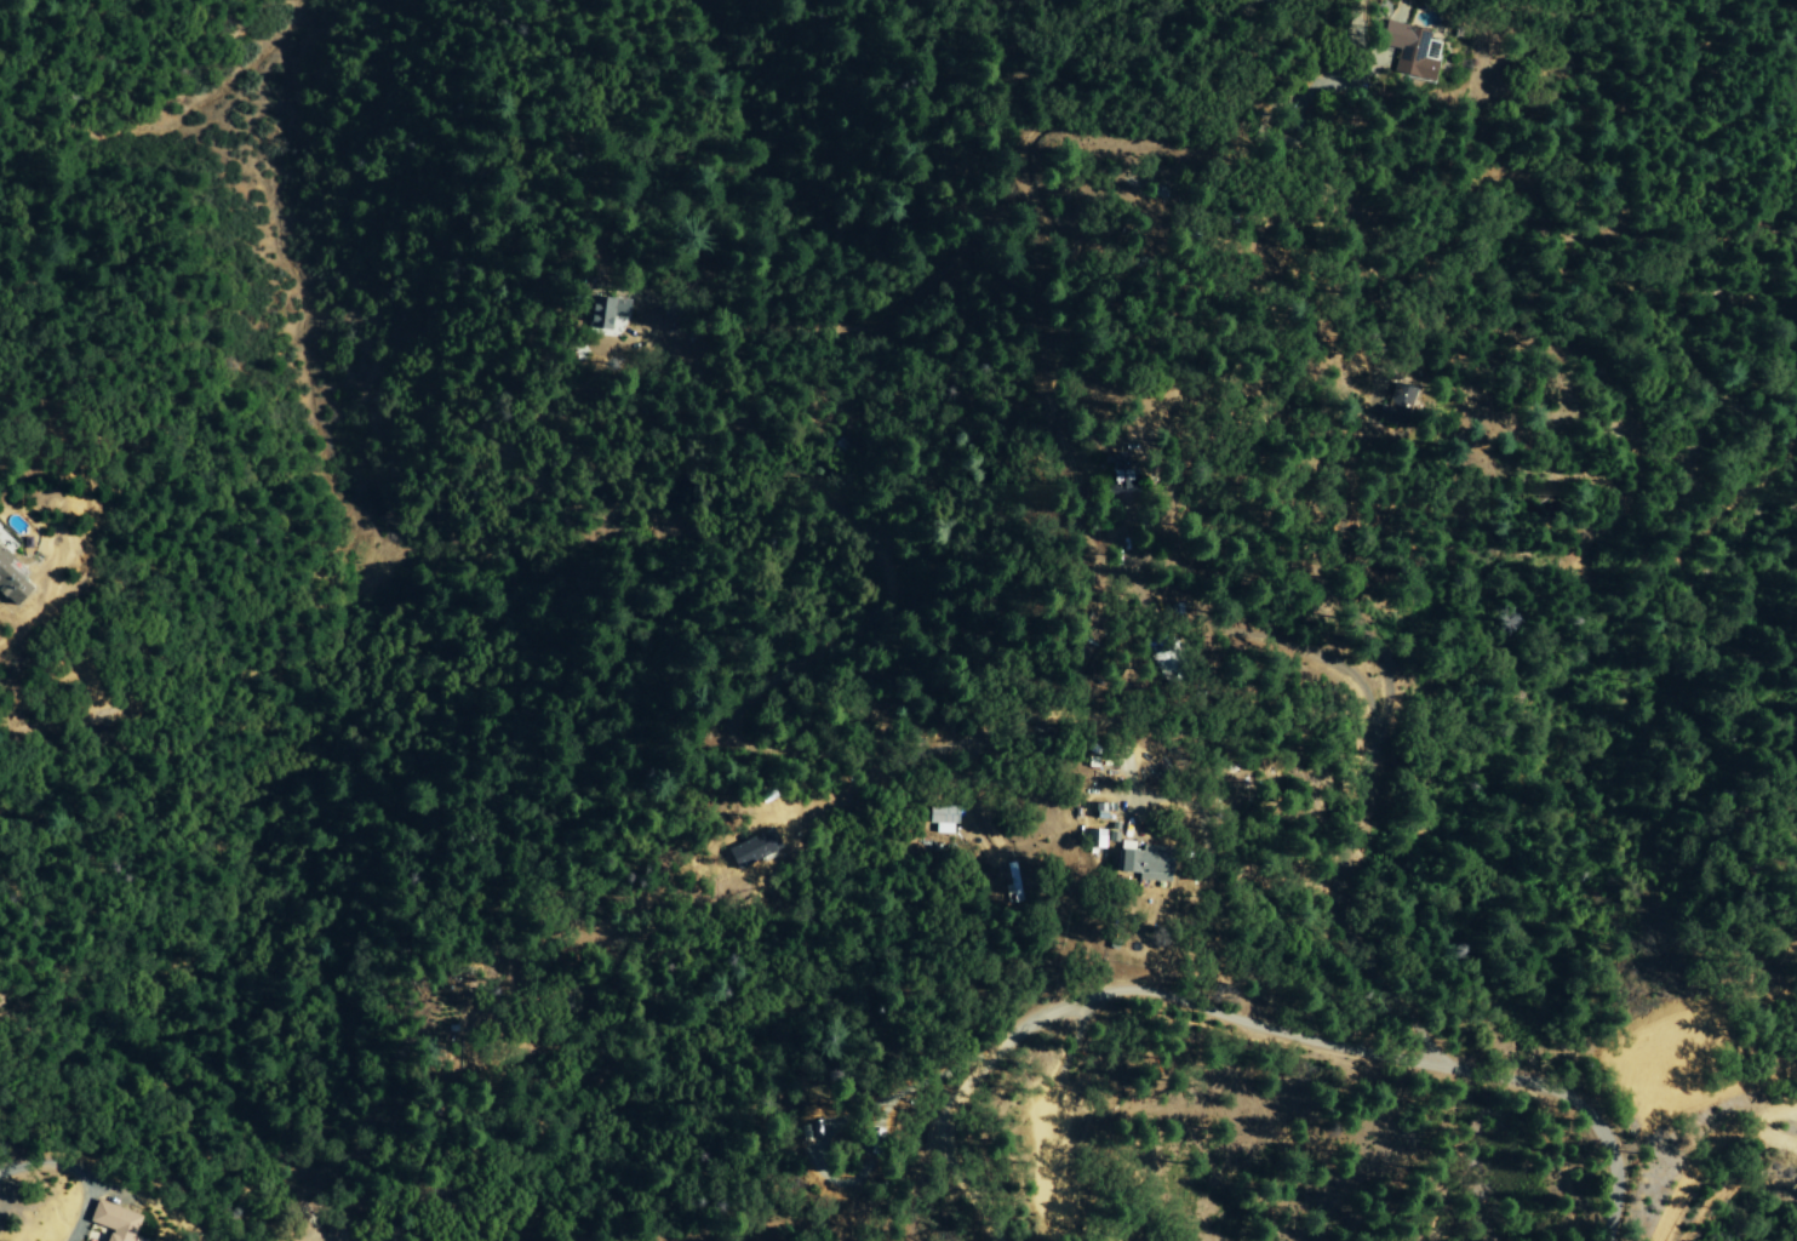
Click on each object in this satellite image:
building: (1417, 55)
building: (607, 311)
building: (1395, 406)
building: (1116, 476)
road: (0, 524)
building: (0, 557)
building: (7, 585)
building: (940, 814)
building: (1139, 860)
road: (1219, 904)
road: (1301, 1040)
road: (75, 1168)
road: (973, 1189)
building: (113, 1222)

